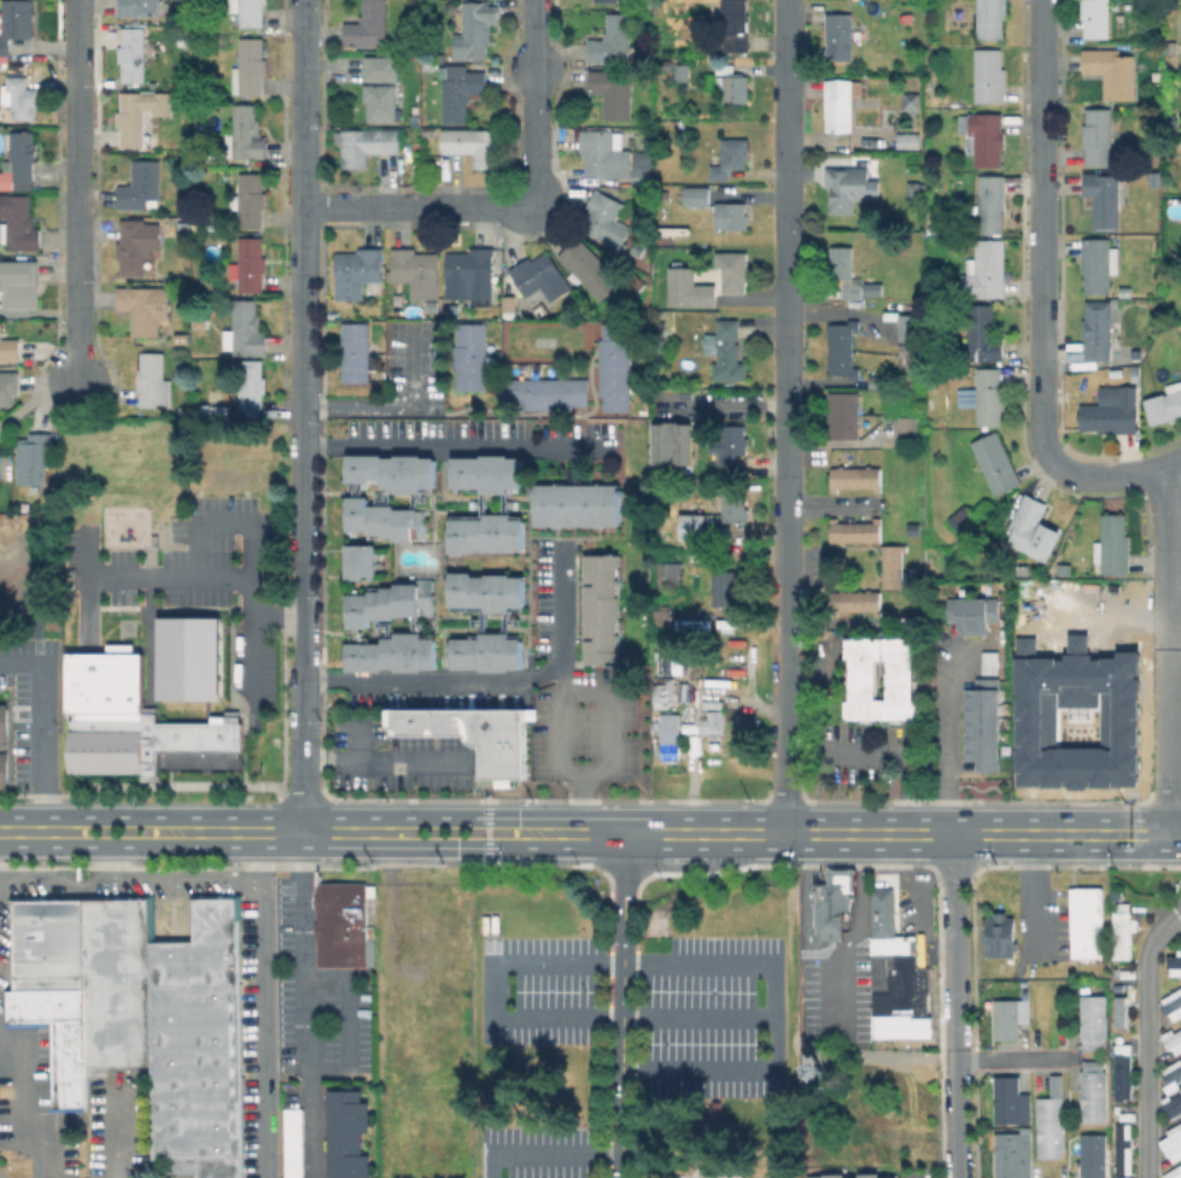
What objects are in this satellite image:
building: (607, 0)
building: (139, 7)
building: (249, 11)
building: (990, 18)
building: (1095, 18)
building: (14, 23)
building: (369, 24)
building: (735, 27)
building: (474, 31)
building: (840, 36)
building: (198, 39)
building: (613, 39)
building: (413, 42)
building: (1171, 47)
building: (133, 54)
building: (250, 68)
building: (381, 68)
building: (724, 68)
building: (683, 70)
building: (1112, 71)
building: (990, 76)
building: (736, 88)
building: (458, 92)
building: (613, 93)
building: (22, 95)
building: (912, 101)
building: (381, 102)
building: (841, 102)
road: (534, 104)
building: (932, 113)
building: (141, 115)
building: (246, 133)
building: (983, 136)
building: (1099, 137)
building: (908, 140)
building: (470, 143)
building: (368, 145)
building: (22, 157)
building: (613, 157)
building: (731, 158)
building: (930, 177)
building: (144, 186)
building: (849, 187)
building: (913, 189)
road: (77, 191)
building: (665, 194)
building: (696, 195)
building: (251, 200)
building: (1105, 200)
building: (992, 204)
road: (420, 206)
building: (731, 215)
building: (606, 218)
building: (19, 222)
building: (187, 225)
building: (138, 246)
building: (250, 264)
building: (1099, 264)
building: (589, 268)
building: (987, 269)
building: (733, 270)
building: (844, 270)
building: (358, 271)
building: (417, 271)
building: (543, 276)
building: (474, 277)
building: (21, 283)
building: (691, 288)
building: (870, 289)
road: (1041, 291)
building: (1126, 292)
building: (508, 304)
building: (434, 305)
building: (146, 310)
building: (201, 320)
building: (905, 328)
building: (246, 329)
building: (1099, 329)
building: (983, 334)
building: (185, 336)
building: (8, 347)
building: (840, 348)
building: (726, 350)
building: (352, 352)
building: (469, 356)
building: (613, 367)
building: (1134, 373)
building: (153, 381)
building: (251, 385)
building: (8, 391)
building: (543, 393)
building: (990, 395)
road: (726, 403)
building: (1165, 404)
road: (397, 411)
building: (216, 412)
building: (1113, 414)
building: (841, 415)
road: (785, 416)
road: (304, 423)
building: (902, 429)
building: (731, 444)
road: (454, 446)
building: (677, 446)
building: (35, 459)
building: (996, 462)
road: (1174, 467)
building: (0, 468)
building: (394, 470)
building: (487, 474)
building: (852, 476)
building: (575, 504)
building: (733, 506)
building: (386, 518)
building: (964, 518)
road: (1170, 523)
building: (702, 528)
building: (1033, 529)
building: (852, 531)
building: (487, 533)
building: (1112, 544)
road: (252, 557)
building: (362, 562)
building: (889, 565)
building: (1063, 568)
building: (670, 570)
road: (171, 578)
road: (89, 587)
building: (724, 587)
building: (487, 592)
building: (392, 600)
building: (852, 600)
road: (1176, 604)
building: (600, 609)
road: (152, 610)
building: (970, 614)
road: (277, 617)
road: (1103, 620)
building: (489, 651)
building: (394, 652)
building: (187, 657)
building: (668, 658)
building: (987, 662)
building: (878, 678)
road: (562, 680)
road: (497, 682)
building: (665, 691)
road: (1171, 705)
building: (4, 722)
building: (714, 723)
building: (749, 723)
building: (671, 727)
building: (978, 727)
road: (45, 731)
building: (474, 735)
road: (362, 740)
road: (943, 740)
building: (159, 744)
building: (666, 752)
road: (390, 762)
building: (4, 769)
road: (607, 774)
road: (475, 779)
road: (583, 803)
road: (490, 809)
road: (275, 816)
road: (865, 833)
road: (490, 840)
road: (275, 846)
road: (258, 849)
road: (119, 861)
road: (245, 868)
road: (125, 877)
road: (926, 889)
road: (1035, 895)
building: (836, 902)
building: (1083, 922)
building: (344, 926)
building: (1119, 930)
building: (996, 934)
building: (49, 937)
road: (834, 954)
road: (600, 963)
building: (1173, 965)
building: (898, 978)
road: (837, 998)
building: (95, 1001)
parking lot: (645, 1003)
building: (1170, 1003)
road: (624, 1006)
road: (949, 1006)
road: (304, 1013)
building: (1011, 1019)
road: (349, 1022)
building: (1095, 1024)
road: (261, 1030)
road: (1147, 1039)
building: (199, 1044)
road: (1011, 1057)
building: (1119, 1071)
building: (1169, 1074)
building: (1095, 1091)
road: (31, 1095)
building: (1012, 1101)
building: (1171, 1104)
building: (718, 1109)
building: (1052, 1121)
building: (349, 1135)
building: (293, 1142)
building: (1171, 1142)
building: (1119, 1148)
parking lot: (542, 1151)
road: (545, 1154)
building: (1010, 1155)
building: (1091, 1155)
building: (1173, 1172)
road: (2, 1176)
building: (835, 1177)
building: (871, 1177)
building: (890, 1177)

